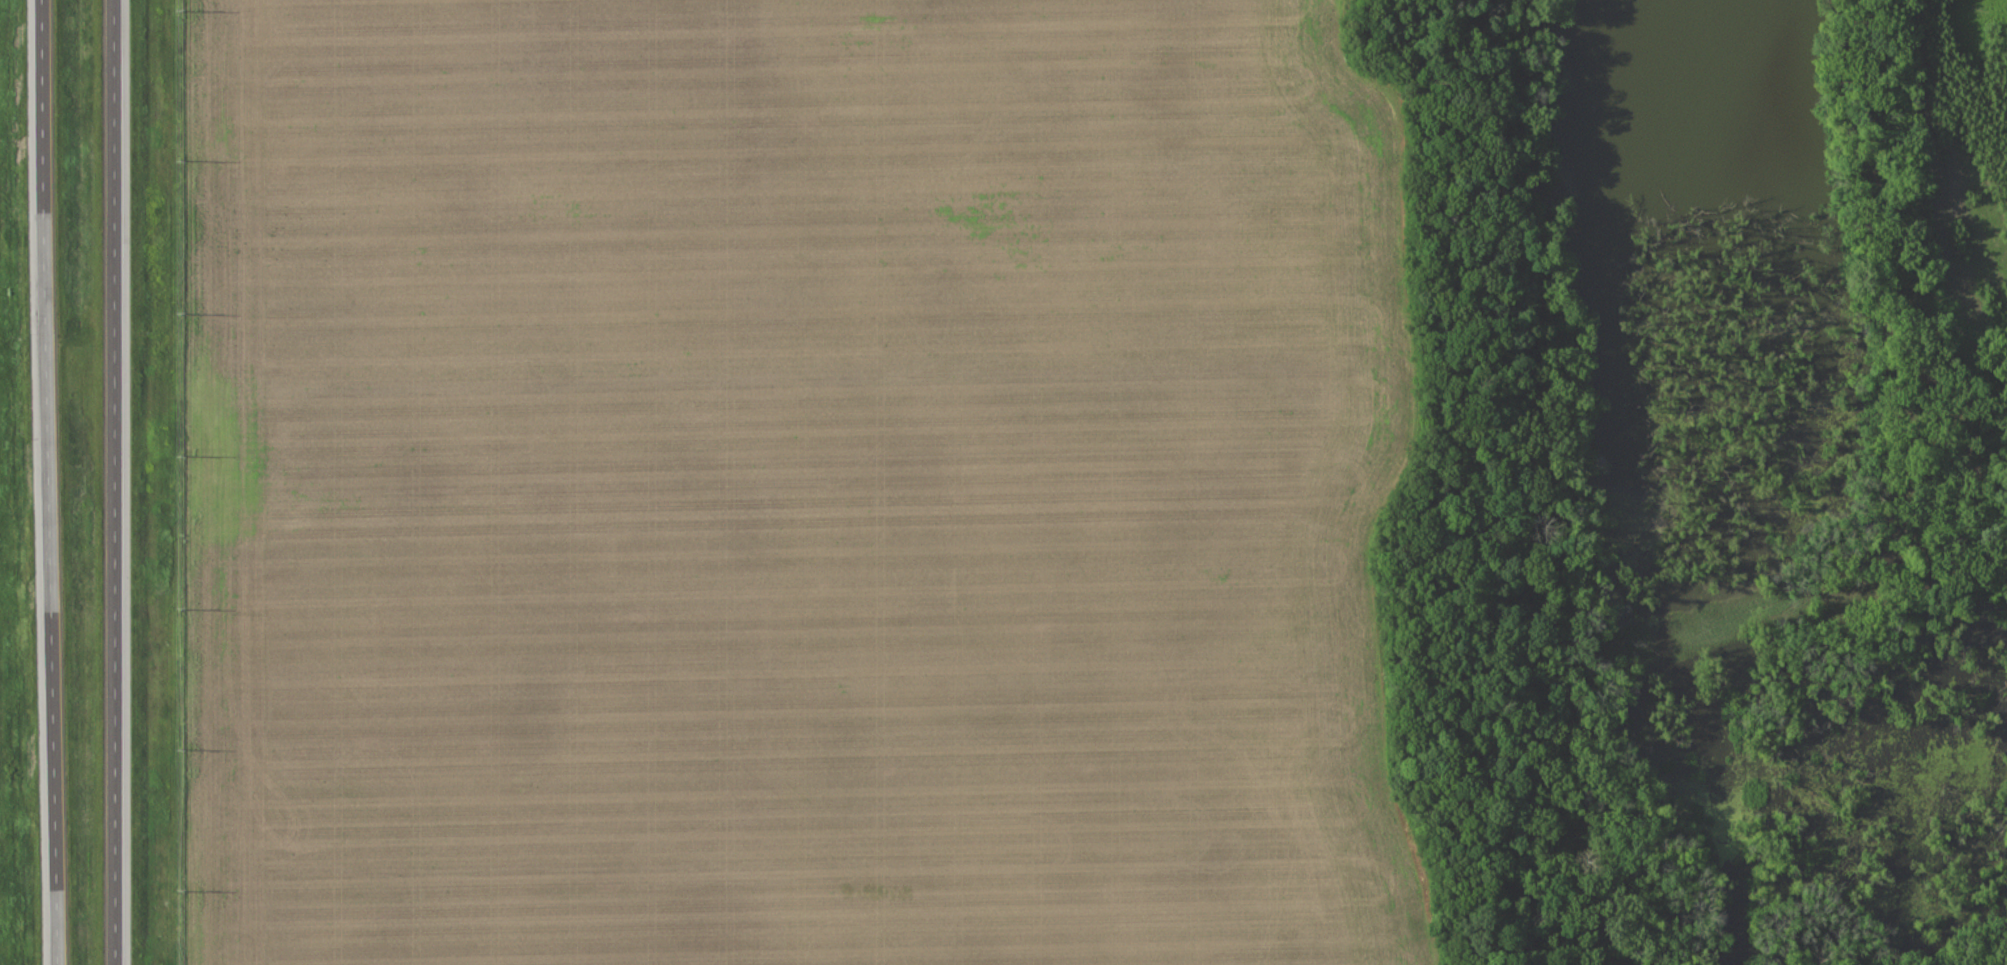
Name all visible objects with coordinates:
road: (46, 482)
road: (114, 482)

